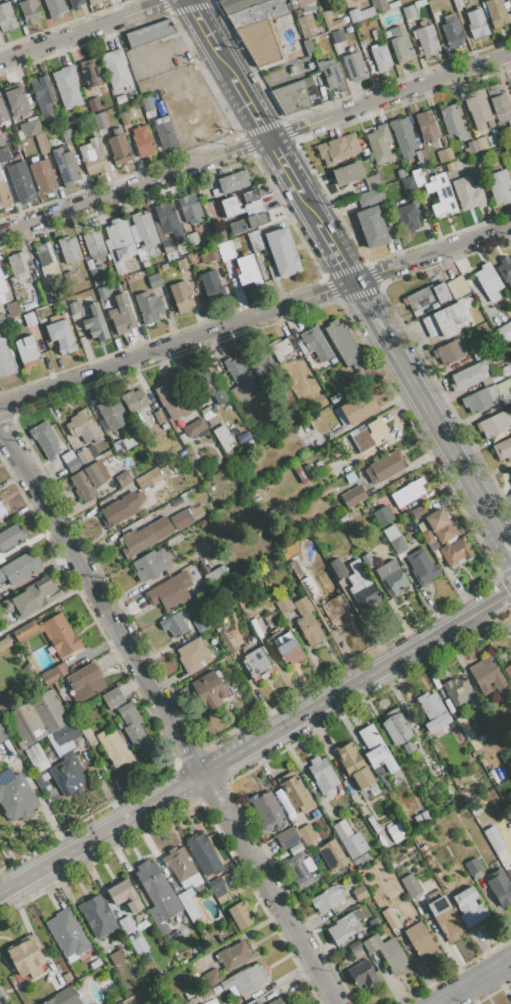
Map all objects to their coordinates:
building: (327, 1)
building: (94, 2)
building: (419, 2)
building: (76, 4)
building: (393, 4)
building: (457, 4)
building: (236, 5)
building: (303, 5)
building: (379, 5)
building: (54, 8)
building: (29, 11)
building: (408, 11)
building: (495, 12)
building: (255, 13)
building: (366, 13)
building: (353, 14)
building: (6, 18)
building: (331, 21)
building: (476, 23)
building: (307, 26)
road: (86, 31)
building: (452, 31)
building: (149, 32)
road: (207, 33)
building: (376, 34)
building: (337, 36)
building: (426, 40)
building: (259, 42)
building: (296, 43)
building: (400, 44)
road: (169, 47)
building: (308, 47)
building: (380, 57)
building: (354, 67)
building: (115, 68)
building: (91, 73)
building: (331, 74)
building: (143, 84)
building: (67, 87)
building: (42, 95)
building: (291, 97)
building: (120, 99)
building: (16, 102)
road: (247, 102)
building: (498, 102)
building: (148, 103)
building: (93, 104)
building: (478, 109)
building: (2, 113)
building: (124, 118)
building: (510, 118)
building: (99, 120)
building: (452, 121)
building: (509, 123)
building: (426, 125)
building: (34, 126)
building: (164, 133)
building: (66, 135)
building: (4, 138)
building: (403, 138)
building: (493, 140)
building: (142, 141)
building: (41, 143)
road: (254, 143)
building: (380, 143)
building: (481, 143)
building: (118, 147)
building: (470, 148)
building: (337, 149)
building: (444, 154)
building: (4, 155)
building: (510, 156)
building: (93, 157)
building: (421, 157)
building: (21, 159)
building: (65, 166)
road: (283, 166)
building: (448, 166)
building: (348, 173)
building: (399, 173)
building: (42, 176)
building: (417, 177)
building: (233, 181)
building: (372, 182)
building: (20, 183)
building: (407, 184)
building: (499, 186)
building: (467, 193)
building: (440, 195)
building: (4, 196)
building: (370, 196)
building: (252, 202)
building: (231, 206)
building: (190, 209)
road: (309, 210)
building: (406, 219)
building: (168, 220)
building: (255, 220)
building: (371, 226)
building: (237, 227)
building: (144, 228)
building: (158, 230)
building: (133, 233)
building: (192, 239)
building: (255, 240)
building: (118, 241)
building: (94, 246)
building: (69, 249)
building: (168, 249)
building: (225, 250)
building: (282, 252)
building: (177, 253)
building: (141, 254)
road: (335, 254)
building: (209, 256)
building: (46, 262)
building: (89, 263)
building: (181, 263)
building: (20, 266)
building: (118, 269)
building: (247, 270)
building: (272, 272)
building: (505, 272)
building: (95, 273)
building: (136, 275)
building: (154, 280)
building: (210, 282)
building: (484, 285)
building: (456, 287)
building: (2, 288)
building: (104, 291)
building: (180, 296)
building: (426, 296)
building: (470, 301)
building: (83, 302)
road: (367, 306)
building: (75, 307)
building: (85, 307)
building: (148, 307)
building: (12, 309)
building: (121, 314)
road: (255, 317)
building: (29, 319)
building: (445, 320)
building: (95, 322)
building: (1, 329)
building: (504, 332)
building: (61, 335)
building: (342, 342)
building: (316, 343)
building: (282, 347)
building: (303, 347)
building: (27, 349)
building: (451, 350)
building: (477, 354)
building: (5, 359)
building: (261, 366)
building: (501, 373)
building: (470, 376)
building: (238, 379)
building: (357, 379)
building: (208, 382)
building: (509, 389)
building: (504, 391)
building: (493, 393)
building: (219, 397)
building: (335, 398)
building: (170, 399)
building: (133, 401)
building: (152, 401)
building: (477, 401)
building: (358, 408)
building: (246, 409)
building: (111, 413)
building: (159, 416)
building: (210, 416)
building: (493, 424)
building: (163, 426)
building: (84, 427)
building: (195, 428)
road: (441, 433)
building: (370, 435)
building: (222, 437)
building: (183, 438)
building: (45, 439)
building: (129, 442)
building: (119, 447)
building: (101, 449)
building: (503, 449)
building: (86, 455)
building: (67, 457)
building: (109, 460)
building: (72, 465)
building: (384, 466)
building: (308, 469)
building: (346, 469)
building: (169, 470)
building: (95, 473)
building: (153, 475)
building: (300, 475)
building: (350, 477)
building: (123, 478)
building: (510, 478)
building: (142, 481)
building: (82, 486)
building: (408, 493)
building: (140, 495)
building: (352, 496)
building: (179, 499)
building: (2, 509)
building: (120, 509)
building: (418, 512)
building: (193, 513)
building: (382, 516)
building: (436, 519)
building: (179, 521)
building: (421, 527)
building: (390, 532)
building: (10, 536)
building: (145, 536)
building: (426, 536)
road: (505, 543)
building: (397, 544)
building: (432, 546)
building: (452, 547)
building: (367, 559)
building: (151, 564)
building: (203, 567)
building: (421, 567)
building: (19, 568)
building: (337, 568)
building: (217, 576)
building: (390, 578)
building: (194, 581)
building: (362, 587)
building: (169, 591)
building: (311, 591)
building: (29, 598)
building: (283, 605)
building: (337, 611)
building: (307, 622)
building: (201, 624)
road: (483, 624)
building: (173, 625)
building: (50, 634)
building: (229, 642)
building: (4, 644)
building: (284, 646)
building: (50, 650)
building: (193, 655)
building: (257, 663)
building: (508, 672)
building: (53, 673)
building: (488, 678)
building: (85, 681)
building: (209, 690)
building: (459, 691)
building: (112, 698)
building: (48, 710)
building: (432, 711)
road: (167, 715)
building: (27, 723)
building: (464, 726)
building: (134, 728)
building: (85, 729)
building: (395, 729)
building: (66, 733)
building: (2, 736)
building: (369, 737)
road: (254, 743)
building: (475, 745)
building: (113, 747)
building: (408, 747)
building: (36, 757)
building: (349, 758)
building: (380, 758)
building: (68, 774)
building: (322, 774)
building: (363, 779)
building: (374, 790)
building: (295, 792)
building: (16, 795)
building: (283, 801)
building: (267, 809)
building: (315, 814)
building: (425, 816)
building: (342, 830)
building: (397, 832)
building: (307, 834)
building: (286, 838)
building: (494, 838)
building: (354, 845)
building: (295, 849)
building: (331, 849)
building: (423, 850)
building: (203, 854)
building: (429, 860)
building: (308, 864)
building: (473, 865)
building: (181, 867)
building: (299, 871)
building: (215, 883)
building: (410, 885)
building: (500, 887)
building: (219, 891)
building: (157, 892)
building: (356, 895)
building: (124, 896)
building: (326, 899)
building: (188, 904)
building: (469, 906)
building: (239, 915)
building: (97, 916)
building: (445, 917)
building: (390, 918)
building: (374, 923)
building: (126, 925)
building: (342, 927)
building: (162, 930)
building: (67, 933)
building: (218, 939)
building: (420, 940)
building: (36, 941)
building: (137, 943)
building: (372, 943)
building: (358, 951)
building: (234, 955)
building: (22, 956)
building: (392, 956)
building: (117, 957)
building: (95, 964)
building: (362, 974)
building: (212, 977)
building: (245, 979)
building: (57, 981)
road: (473, 981)
building: (106, 985)
building: (216, 990)
building: (204, 992)
building: (188, 993)
building: (63, 997)
building: (211, 1001)
building: (276, 1001)
building: (189, 1002)
building: (202, 1003)
building: (250, 1003)
building: (256, 1003)

